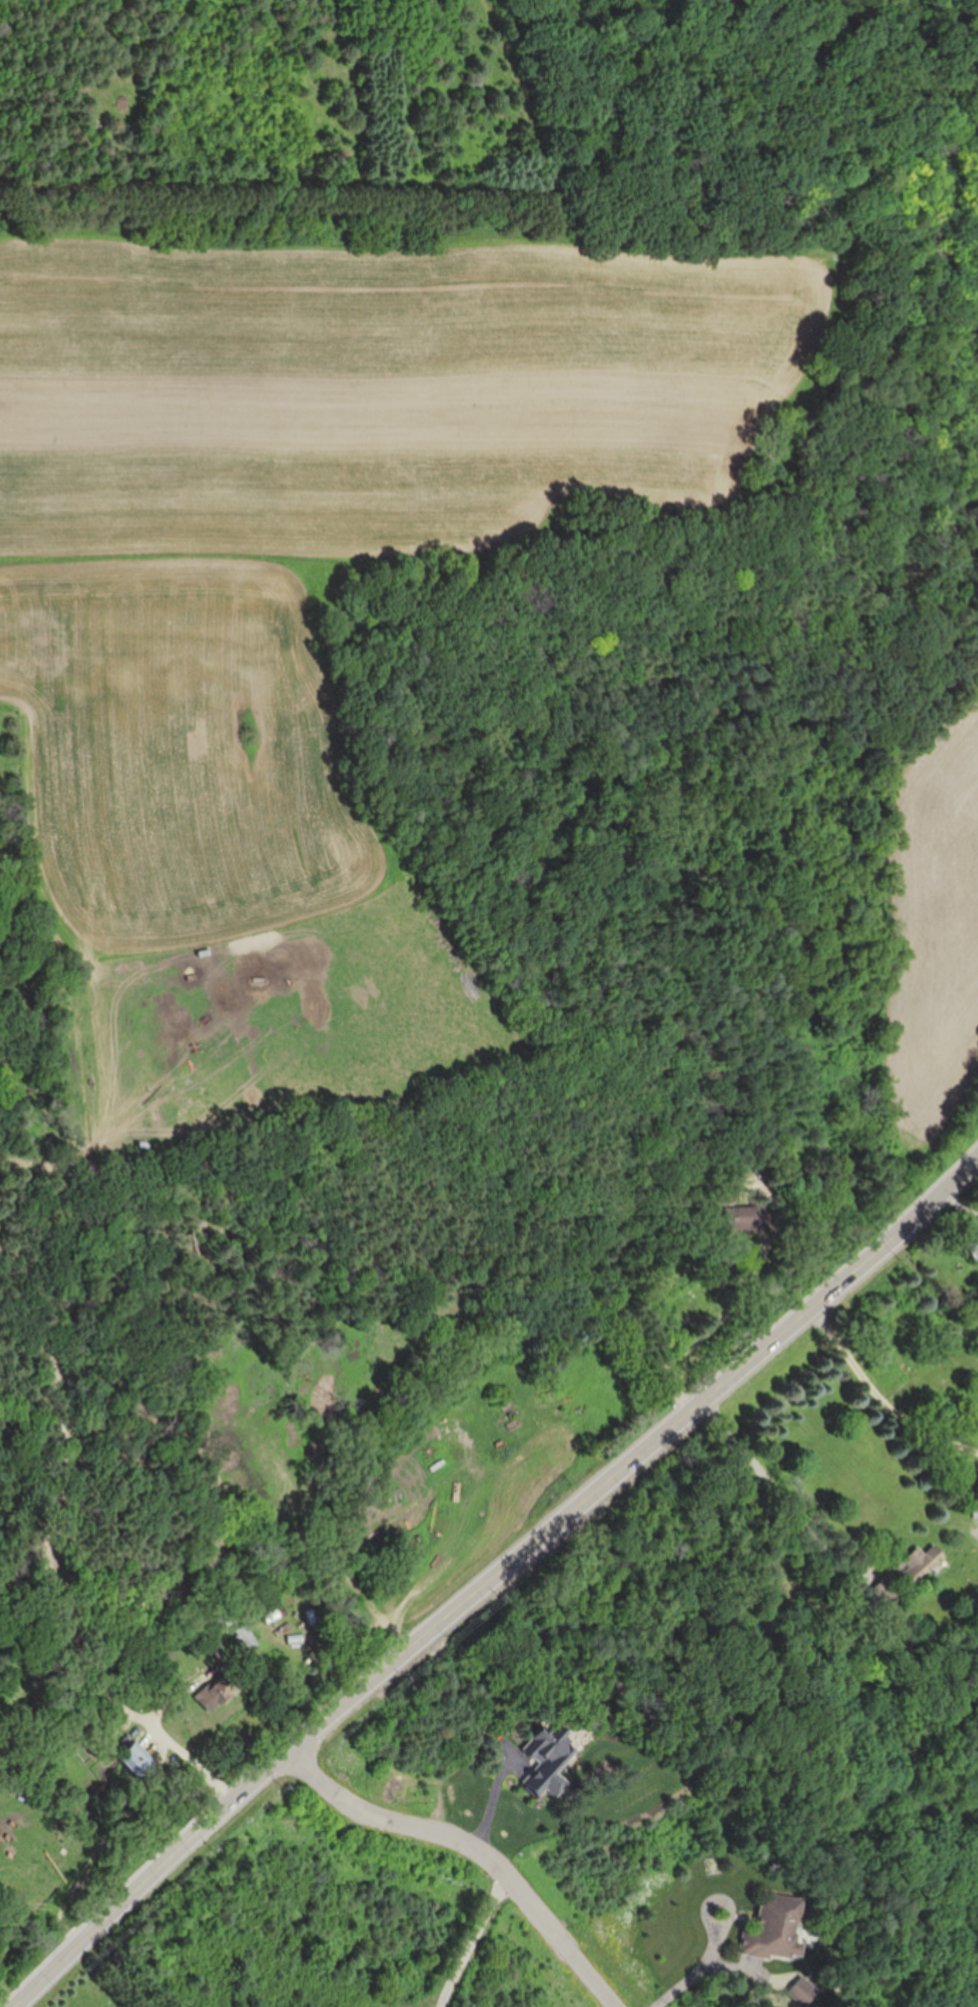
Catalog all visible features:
building: (741, 1217)
building: (971, 1240)
road: (878, 1393)
road: (779, 1493)
building: (920, 1562)
road: (497, 1574)
building: (245, 1639)
building: (217, 1690)
building: (133, 1757)
road: (196, 1764)
road: (478, 1845)
building: (775, 1927)
road: (474, 1939)
road: (697, 1975)

